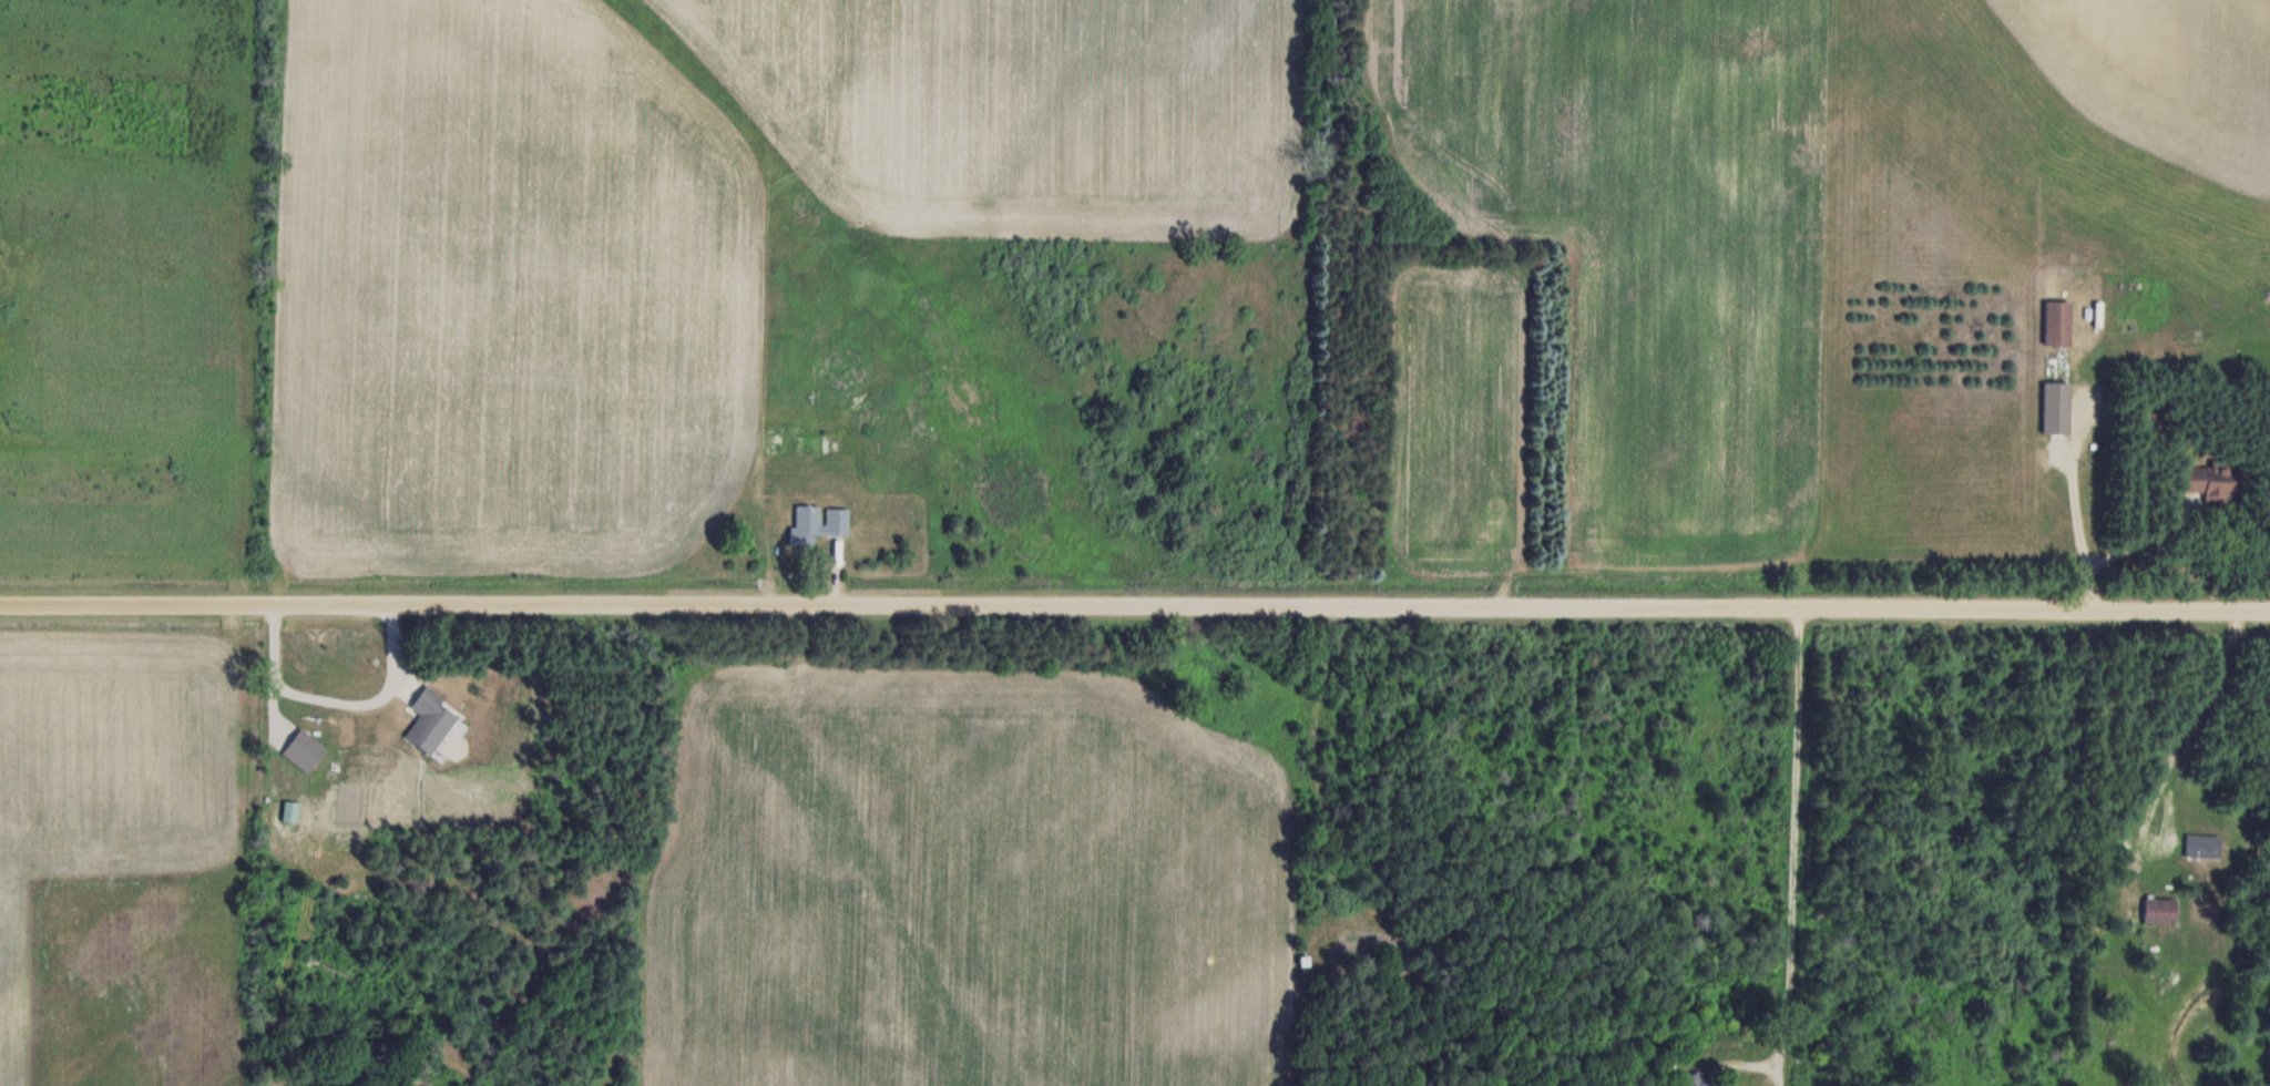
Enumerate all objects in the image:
building: (2058, 322)
building: (2057, 407)
building: (776, 440)
building: (831, 443)
building: (808, 444)
building: (2213, 480)
building: (818, 523)
road: (1135, 605)
road: (2197, 715)
building: (429, 720)
building: (306, 747)
road: (1790, 856)
building: (2159, 909)
building: (1698, 1078)

